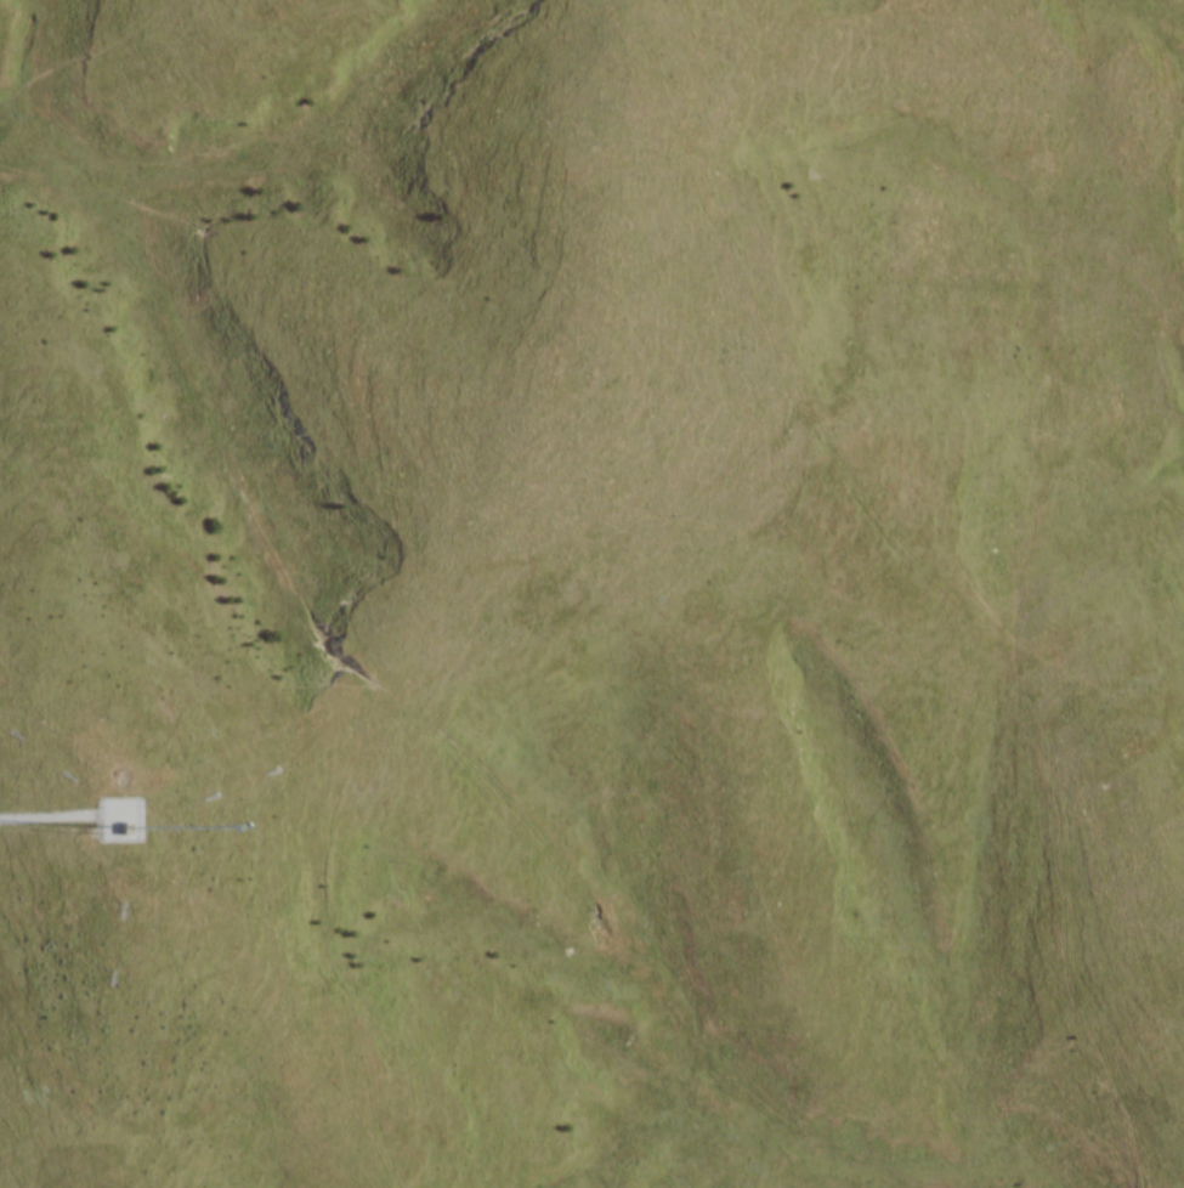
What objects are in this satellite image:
road: (44, 818)

